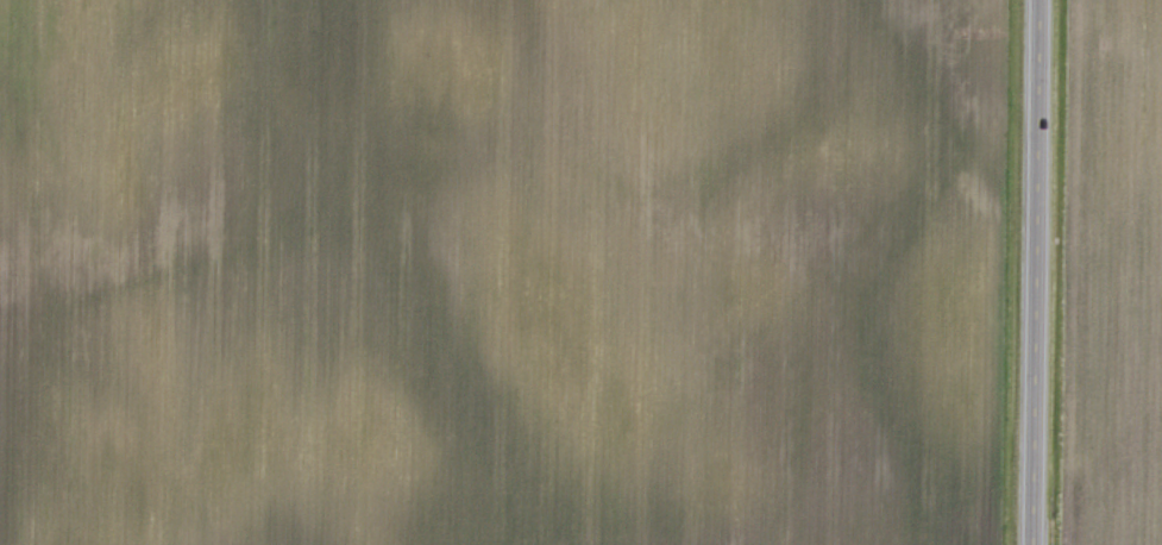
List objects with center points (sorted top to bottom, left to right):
road: (1047, 272)

